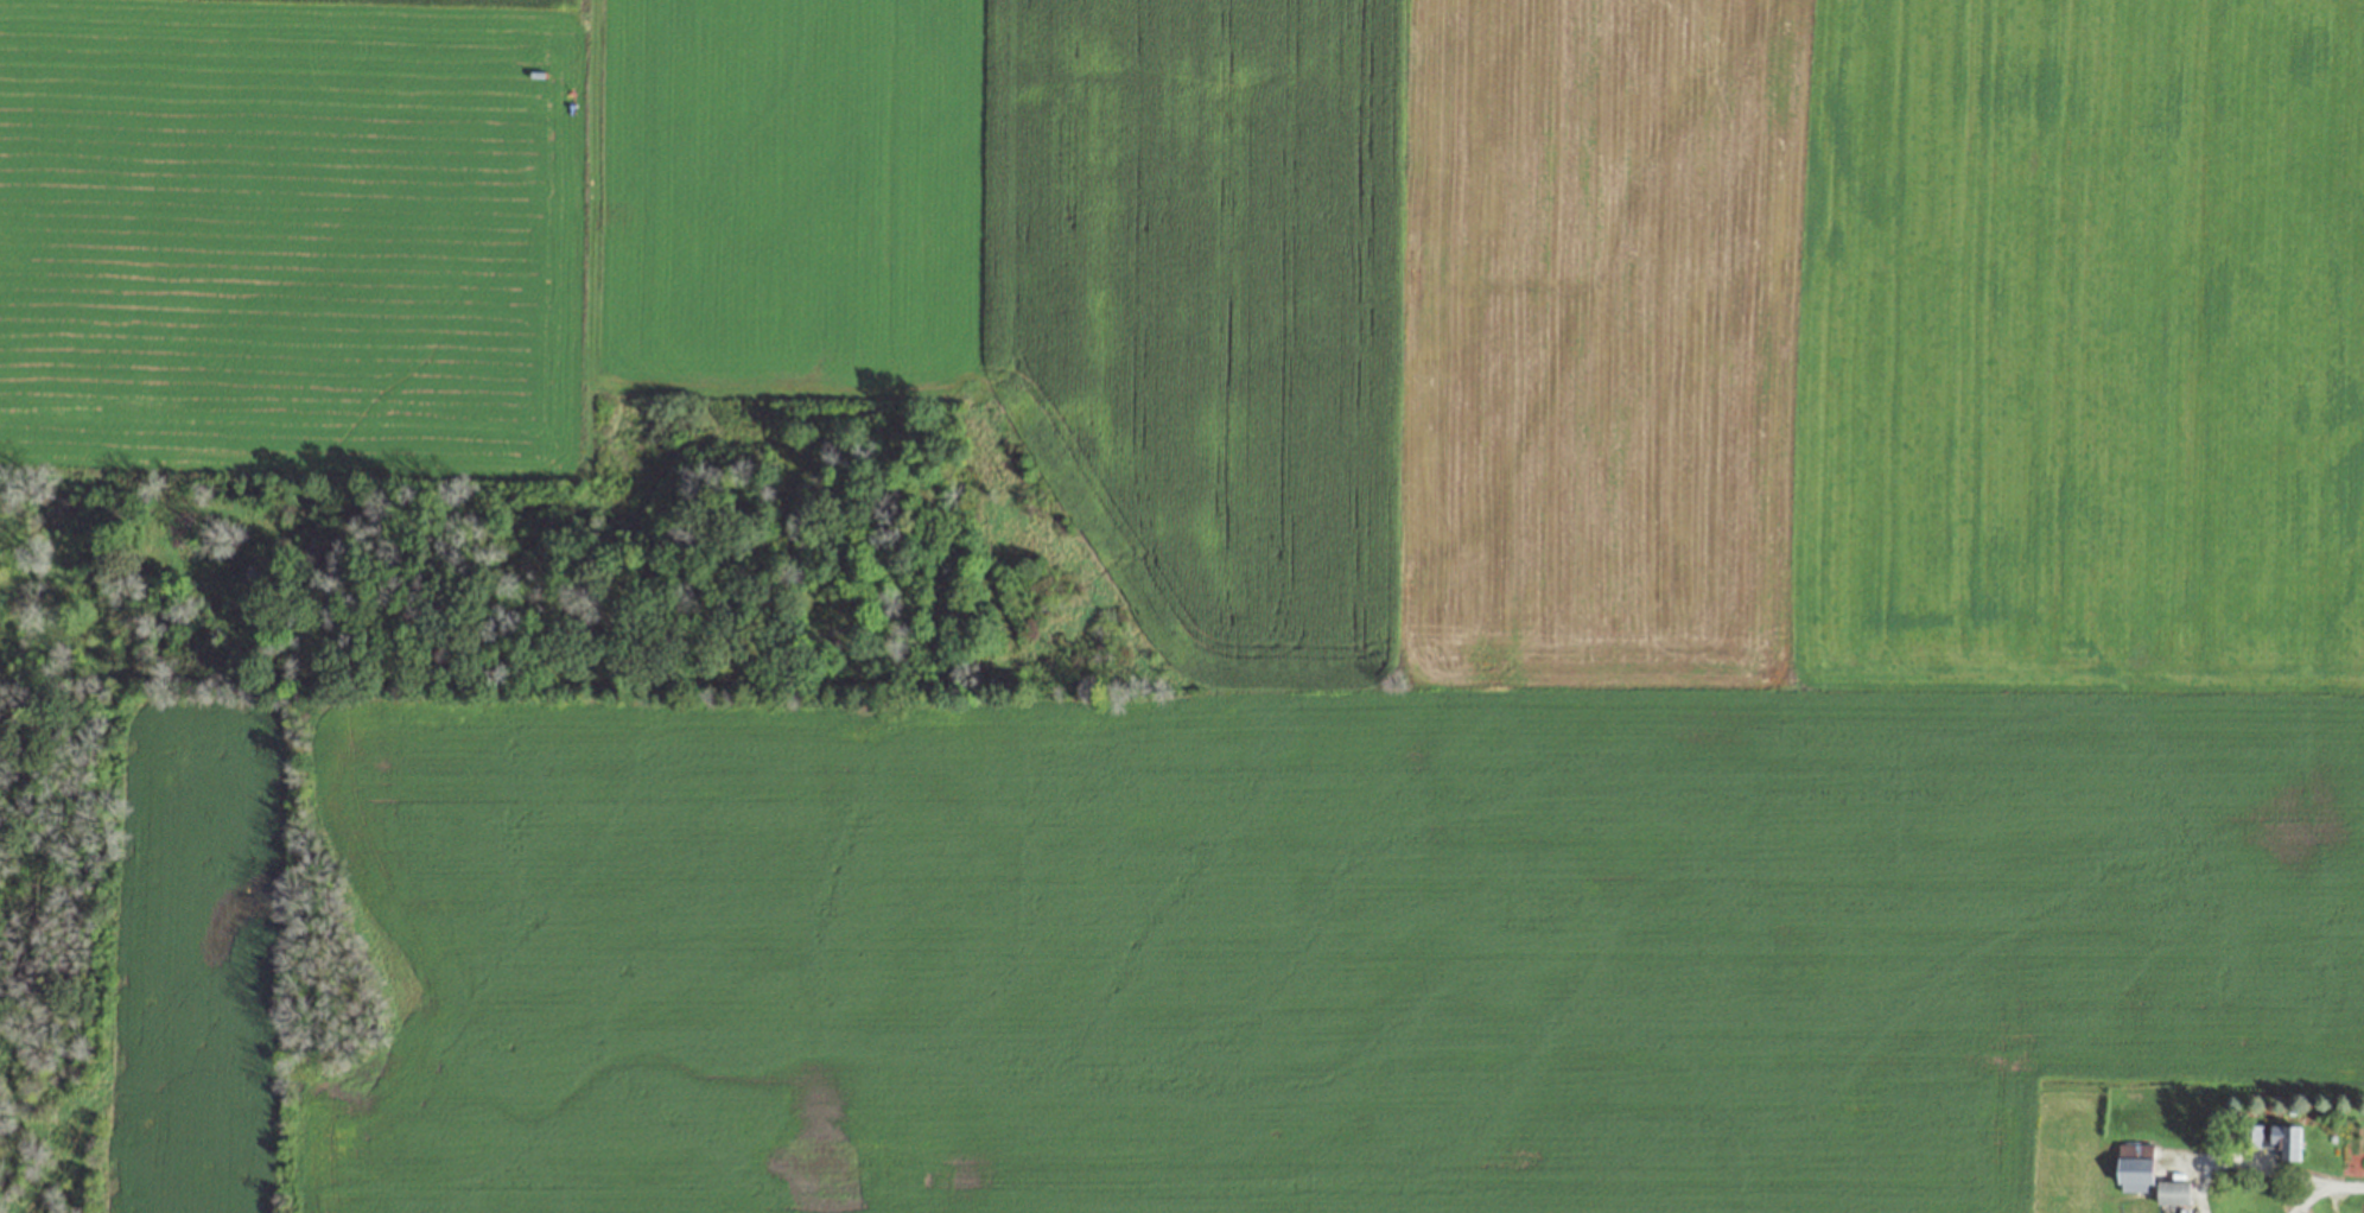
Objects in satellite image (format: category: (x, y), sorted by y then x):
building: (2277, 1137)
road: (2238, 1156)
building: (2134, 1162)
road: (2340, 1185)
building: (2172, 1190)
road: (2302, 1198)

